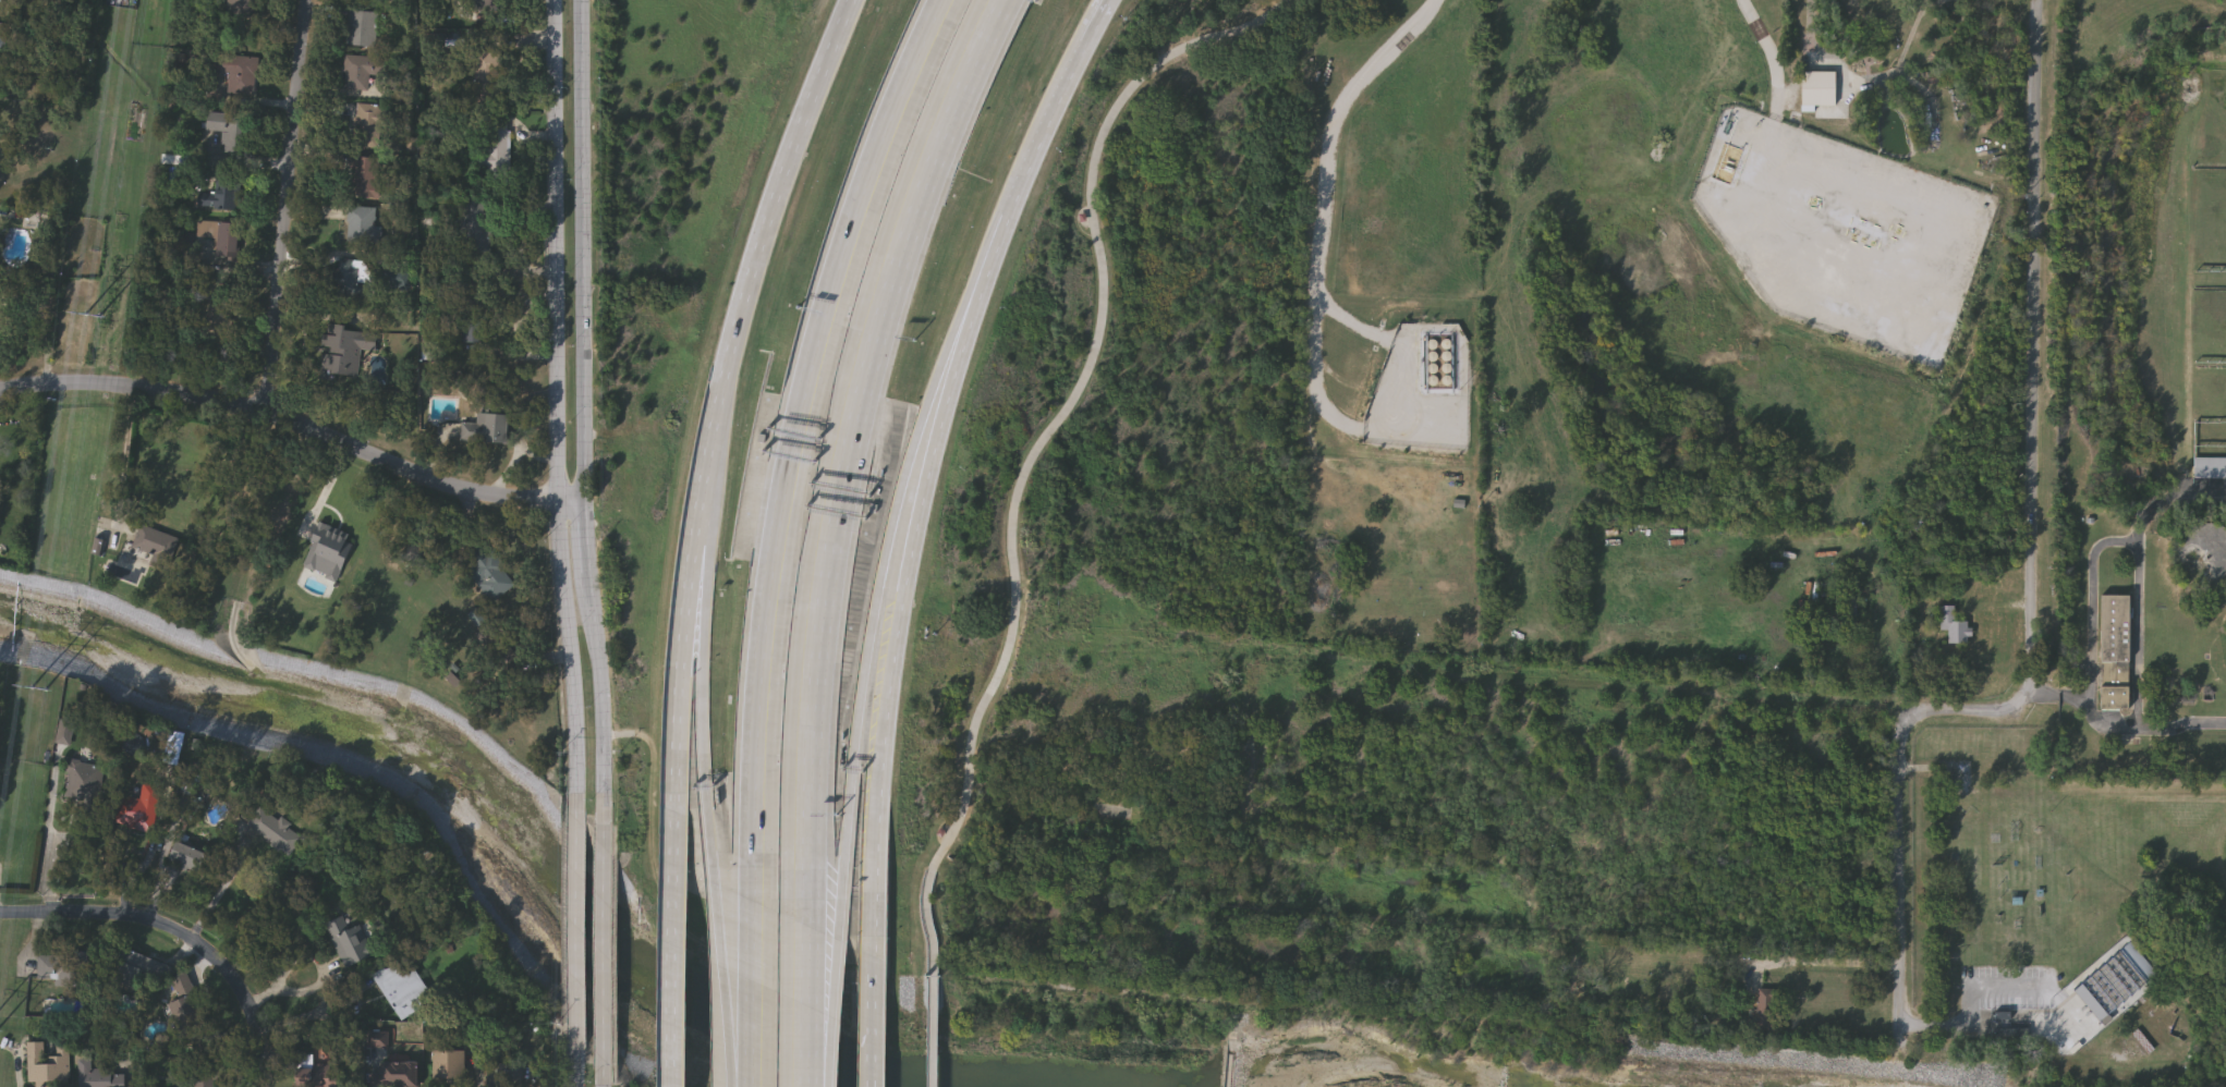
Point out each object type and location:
building: (242, 2)
building: (364, 27)
building: (0, 41)
building: (364, 71)
building: (240, 73)
building: (370, 124)
building: (234, 131)
road: (1048, 131)
road: (1321, 146)
building: (368, 175)
building: (1810, 179)
building: (227, 187)
road: (285, 207)
building: (474, 208)
road: (910, 212)
road: (866, 222)
building: (363, 223)
building: (211, 229)
building: (231, 237)
road: (761, 243)
building: (351, 273)
building: (473, 309)
power tower: (96, 317)
building: (346, 352)
road: (559, 396)
road: (585, 413)
road: (297, 426)
building: (487, 426)
road: (1051, 433)
building: (1434, 444)
road: (127, 455)
building: (2211, 469)
road: (1444, 477)
road: (2168, 499)
building: (1412, 511)
building: (158, 545)
road: (2137, 555)
road: (2032, 563)
building: (490, 574)
road: (880, 590)
road: (904, 603)
building: (1851, 606)
building: (1954, 627)
road: (770, 652)
building: (2115, 654)
road: (681, 655)
road: (810, 681)
road: (706, 687)
power tower: (45, 692)
building: (68, 731)
building: (85, 782)
building: (270, 828)
building: (188, 856)
road: (50, 859)
road: (219, 897)
road: (580, 921)
road: (181, 936)
building: (348, 942)
road: (609, 942)
road: (679, 951)
road: (1833, 955)
building: (60, 966)
building: (139, 969)
road: (766, 969)
road: (324, 978)
road: (729, 981)
building: (2115, 984)
building: (401, 989)
road: (1974, 996)
road: (807, 1007)
building: (1768, 1011)
road: (836, 1012)
building: (191, 1013)
road: (314, 1013)
road: (874, 1022)
road: (932, 1023)
dam: (1231, 1060)
building: (50, 1063)
building: (402, 1066)
building: (450, 1066)
building: (316, 1067)
road: (577, 1068)
road: (605, 1073)
building: (104, 1074)
building: (197, 1077)

